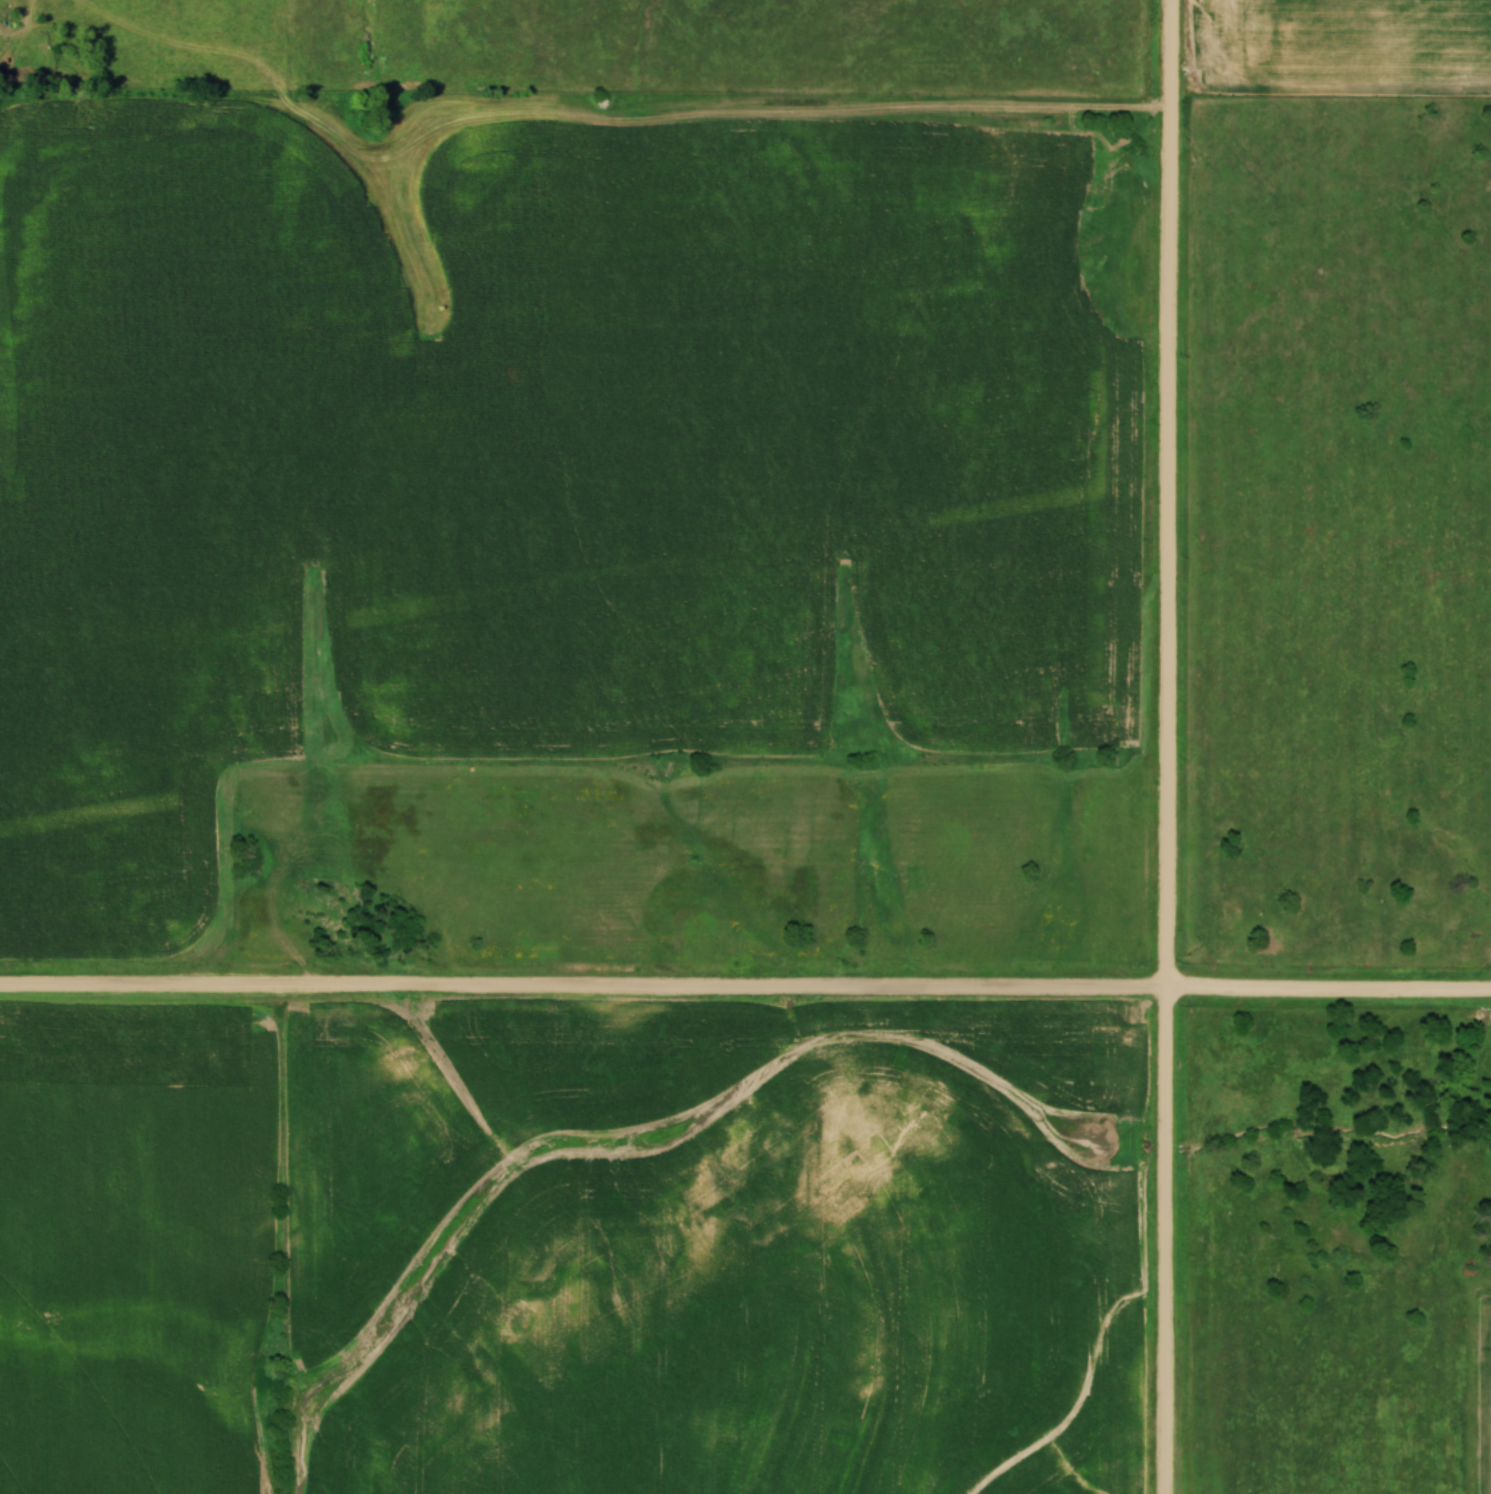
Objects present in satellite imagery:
road: (1169, 747)
road: (745, 984)

